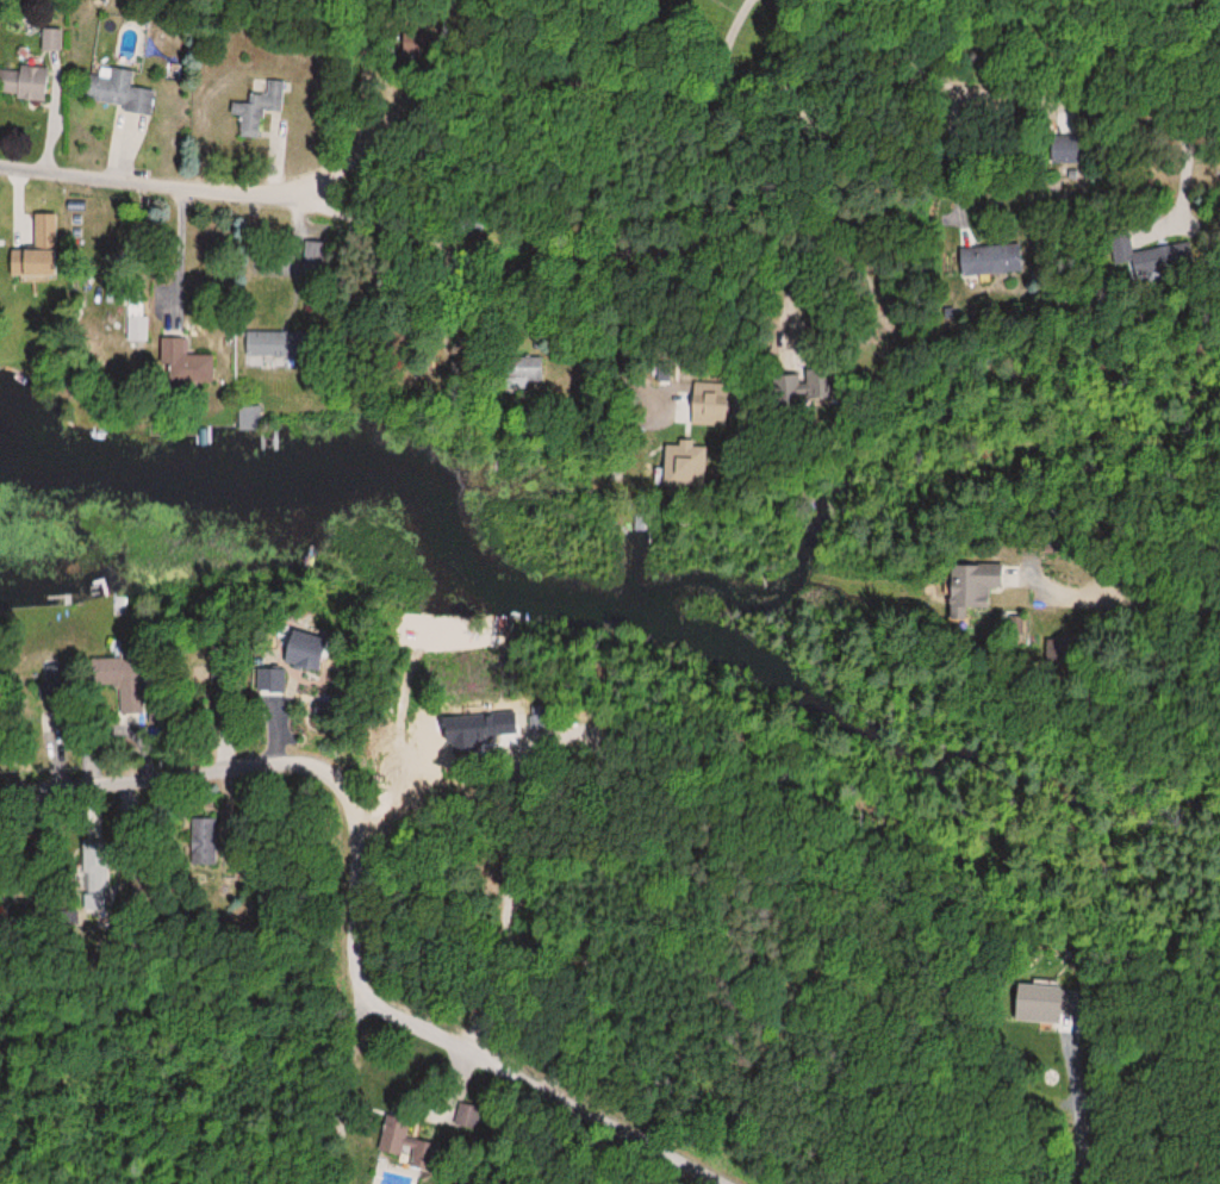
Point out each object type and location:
road: (418, 50)
building: (21, 83)
building: (117, 91)
road: (815, 91)
building: (256, 108)
building: (1065, 150)
road: (224, 188)
road: (926, 192)
road: (798, 214)
road: (633, 226)
building: (991, 260)
building: (137, 328)
building: (270, 344)
building: (181, 364)
building: (523, 370)
building: (791, 390)
building: (250, 418)
building: (690, 463)
building: (969, 588)
road: (1132, 592)
building: (297, 647)
building: (125, 680)
building: (500, 727)
road: (174, 778)
building: (205, 841)
building: (1041, 1003)
road: (454, 1039)
building: (399, 1139)

